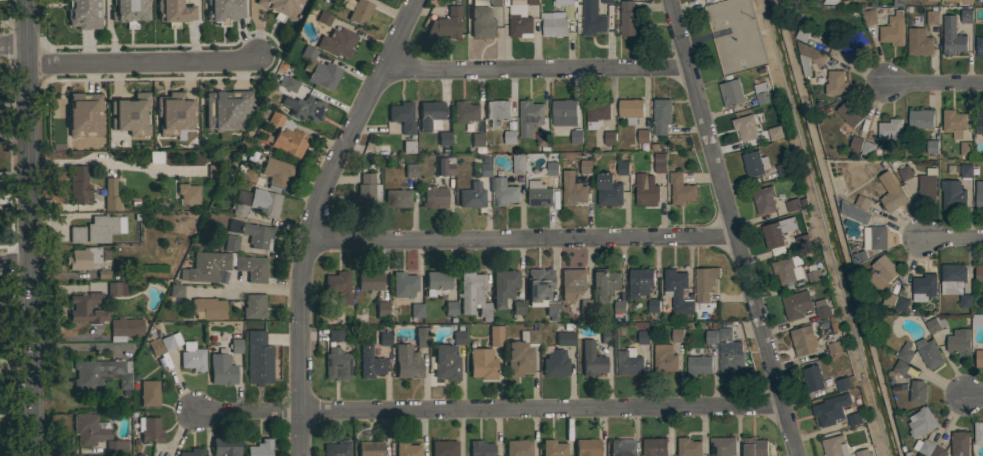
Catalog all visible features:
building: (607, 1)
building: (963, 1)
building: (533, 2)
building: (564, 2)
building: (830, 2)
building: (932, 2)
building: (496, 3)
building: (898, 3)
building: (344, 4)
building: (282, 8)
building: (130, 11)
building: (224, 11)
building: (174, 12)
building: (360, 12)
building: (83, 14)
building: (966, 16)
building: (324, 18)
building: (627, 18)
building: (868, 18)
building: (932, 18)
building: (592, 19)
building: (481, 20)
building: (448, 22)
building: (520, 22)
building: (555, 24)
building: (893, 30)
building: (982, 30)
building: (951, 36)
building: (337, 42)
building: (918, 42)
road: (14, 45)
building: (855, 45)
building: (979, 46)
building: (810, 58)
road: (142, 61)
road: (535, 67)
building: (319, 70)
building: (287, 82)
building: (836, 83)
road: (936, 83)
building: (731, 93)
building: (762, 93)
building: (225, 108)
building: (304, 108)
building: (630, 110)
building: (496, 111)
building: (174, 112)
building: (464, 112)
building: (564, 113)
building: (596, 113)
building: (850, 113)
building: (130, 114)
building: (429, 114)
building: (84, 115)
building: (402, 116)
building: (661, 117)
building: (529, 118)
building: (921, 119)
building: (979, 122)
building: (953, 123)
building: (745, 127)
building: (890, 130)
building: (775, 133)
building: (287, 135)
building: (643, 135)
building: (509, 137)
building: (576, 137)
building: (443, 138)
building: (610, 138)
building: (477, 139)
building: (543, 141)
building: (856, 143)
building: (932, 147)
building: (965, 148)
building: (868, 149)
building: (155, 157)
road: (113, 163)
building: (659, 163)
building: (754, 163)
building: (518, 164)
building: (443, 166)
building: (586, 166)
building: (552, 168)
building: (622, 168)
building: (484, 169)
building: (783, 169)
building: (213, 170)
building: (410, 170)
building: (966, 170)
building: (276, 171)
building: (905, 173)
building: (248, 174)
building: (79, 184)
building: (927, 185)
building: (680, 188)
building: (572, 189)
building: (646, 189)
building: (504, 190)
building: (608, 190)
building: (363, 191)
building: (891, 192)
building: (188, 193)
building: (539, 193)
building: (952, 194)
building: (110, 195)
building: (433, 195)
building: (472, 195)
building: (979, 195)
building: (397, 197)
building: (763, 199)
building: (264, 202)
building: (862, 202)
building: (793, 205)
building: (240, 209)
building: (855, 212)
road: (316, 217)
road: (30, 227)
building: (104, 227)
road: (732, 228)
building: (76, 234)
building: (256, 234)
building: (777, 234)
building: (877, 237)
road: (953, 237)
road: (521, 239)
building: (802, 241)
building: (231, 242)
building: (83, 257)
road: (15, 264)
building: (205, 266)
building: (252, 267)
building: (788, 269)
building: (882, 273)
building: (813, 274)
building: (979, 274)
building: (952, 278)
building: (369, 280)
building: (437, 282)
building: (639, 282)
building: (572, 283)
building: (606, 283)
building: (704, 283)
building: (403, 284)
building: (539, 284)
building: (338, 286)
building: (504, 286)
road: (246, 287)
building: (923, 287)
building: (116, 288)
building: (176, 290)
building: (677, 291)
building: (473, 294)
building: (889, 300)
building: (965, 301)
building: (653, 305)
building: (797, 305)
building: (901, 305)
building: (253, 306)
building: (518, 306)
building: (585, 306)
building: (88, 307)
building: (450, 307)
building: (208, 308)
building: (382, 308)
building: (416, 310)
building: (552, 310)
building: (619, 310)
building: (823, 312)
building: (977, 320)
building: (935, 324)
building: (125, 328)
building: (335, 334)
building: (724, 334)
building: (495, 335)
building: (677, 335)
building: (421, 336)
building: (606, 336)
building: (711, 336)
building: (643, 337)
building: (384, 338)
building: (565, 338)
building: (171, 340)
building: (803, 341)
building: (959, 342)
building: (235, 345)
building: (155, 347)
building: (834, 347)
building: (521, 353)
building: (905, 353)
building: (929, 353)
building: (192, 357)
building: (731, 357)
building: (258, 358)
building: (447, 358)
building: (591, 358)
building: (979, 358)
building: (664, 359)
building: (372, 361)
building: (407, 361)
building: (555, 362)
building: (698, 362)
building: (481, 363)
building: (337, 364)
building: (630, 365)
building: (901, 367)
building: (221, 369)
building: (86, 375)
building: (812, 378)
building: (843, 384)
building: (918, 391)
building: (149, 392)
road: (974, 396)
road: (490, 409)
building: (827, 413)
building: (855, 419)
building: (922, 422)
building: (149, 428)
building: (88, 429)
building: (979, 433)
building: (960, 443)
building: (116, 445)
building: (225, 446)
building: (722, 446)
building: (834, 446)
building: (518, 447)
building: (587, 447)
building: (621, 447)
building: (655, 447)
building: (688, 447)
building: (754, 447)
building: (924, 447)
building: (260, 448)
building: (336, 448)
building: (370, 448)
building: (444, 448)
building: (481, 448)
building: (553, 448)
building: (407, 449)
building: (938, 451)
building: (192, 452)
building: (863, 452)
building: (854, 454)

